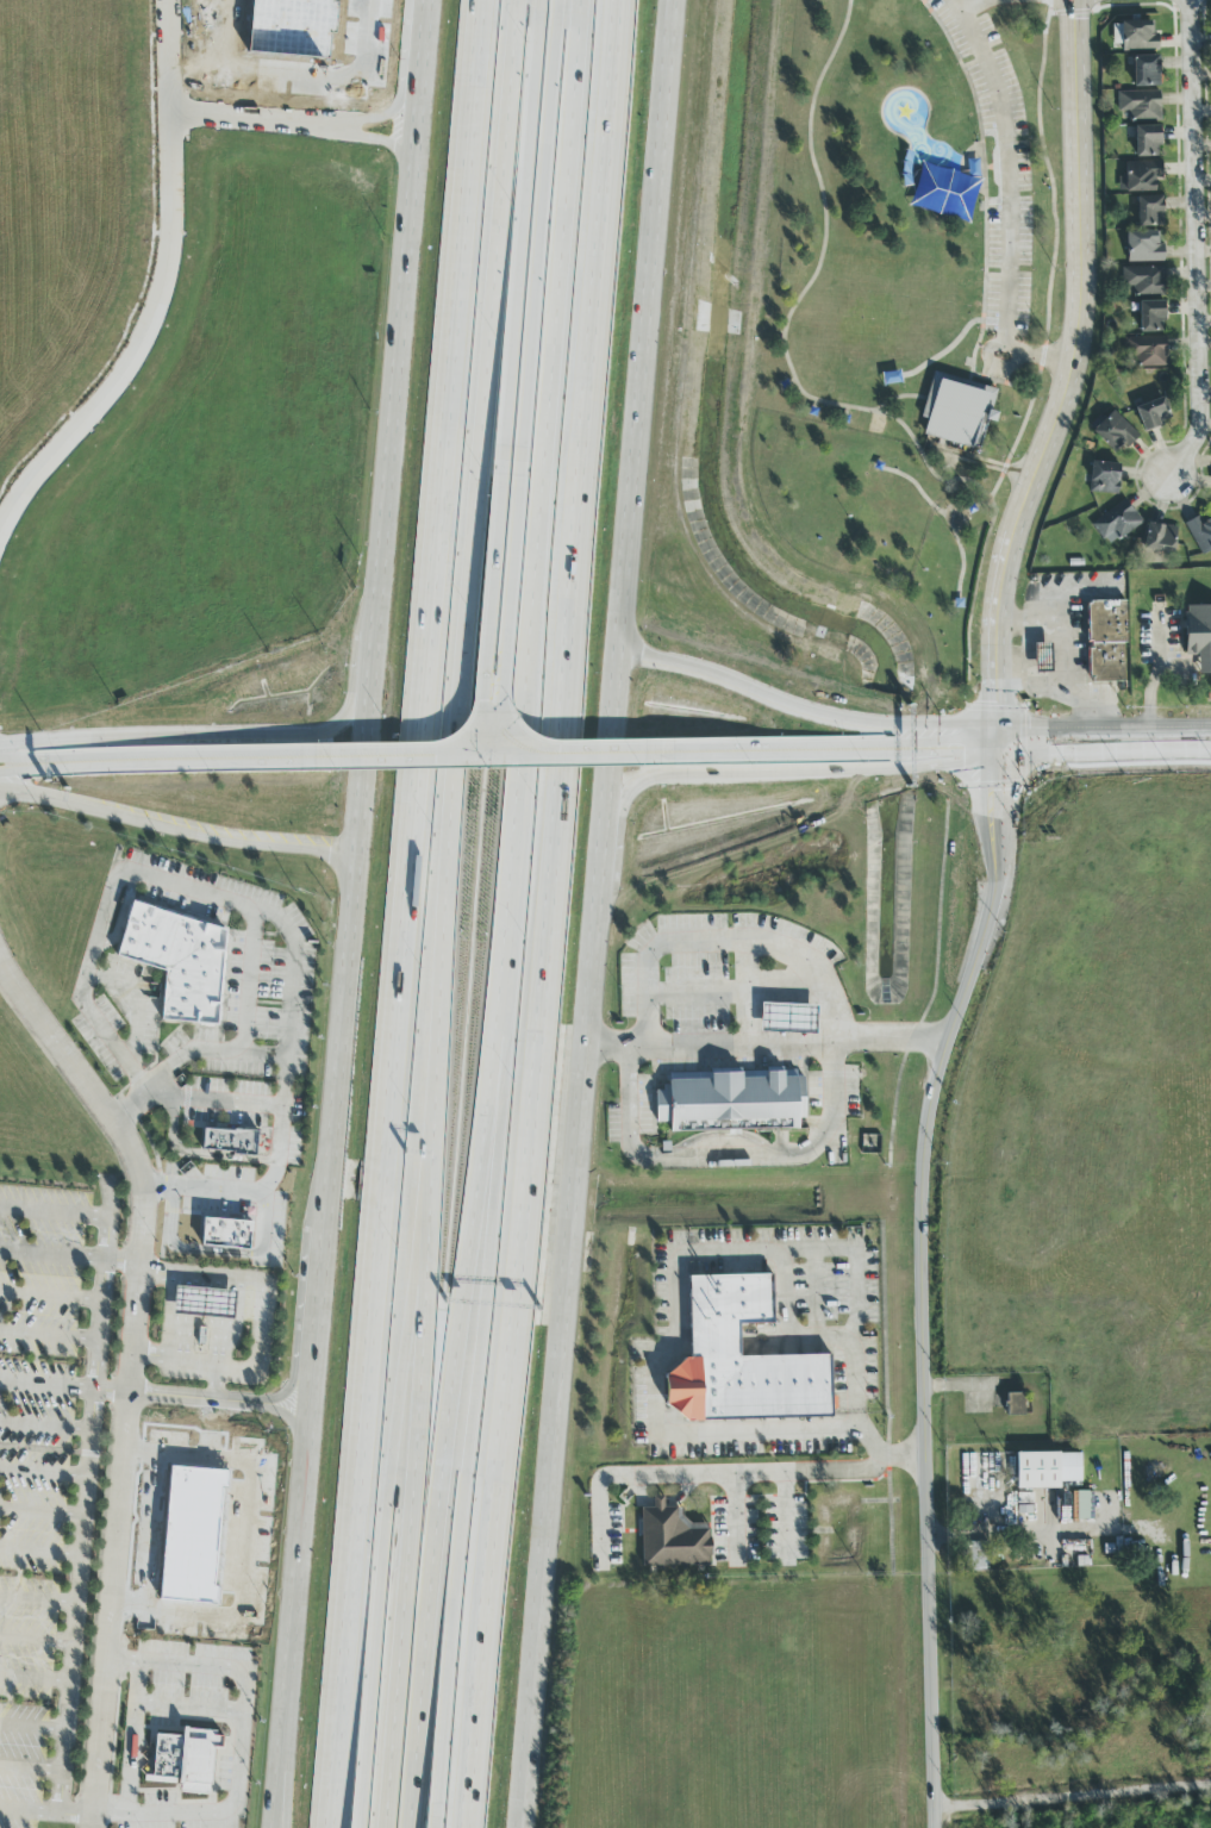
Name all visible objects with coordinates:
road: (1015, 0)
road: (963, 4)
building: (1137, 36)
road: (511, 63)
building: (1144, 70)
building: (1140, 104)
road: (258, 121)
building: (1146, 141)
road: (998, 161)
road: (1006, 161)
road: (525, 166)
road: (544, 166)
building: (1138, 176)
parking lot: (1001, 181)
road: (990, 186)
building: (1148, 211)
park: (920, 227)
building: (1143, 245)
road: (1198, 247)
road: (1056, 274)
building: (1143, 279)
road: (160, 288)
road: (797, 304)
building: (1150, 316)
road: (956, 341)
road: (1038, 350)
building: (1147, 350)
road: (1000, 358)
road: (1069, 379)
road: (1005, 381)
road: (899, 393)
building: (961, 407)
building: (1151, 413)
building: (1113, 432)
road: (949, 462)
road: (984, 463)
building: (1103, 478)
road: (951, 511)
building: (1115, 523)
building: (1200, 534)
road: (497, 535)
road: (518, 535)
building: (1157, 537)
road: (980, 580)
road: (374, 613)
building: (1199, 630)
building: (1109, 637)
road: (1026, 649)
road: (1061, 650)
gas station: (1044, 651)
building: (1042, 657)
road: (1184, 666)
road: (1155, 668)
road: (1081, 699)
road: (810, 711)
road: (452, 712)
road: (1203, 725)
road: (1109, 728)
road: (256, 737)
traffic signals: (1004, 745)
road: (1015, 745)
road: (494, 747)
road: (749, 751)
road: (1118, 755)
road: (18, 760)
road: (264, 761)
road: (18, 769)
road: (750, 772)
road: (188, 831)
road: (157, 884)
road: (401, 913)
road: (533, 913)
road: (599, 913)
road: (506, 915)
road: (731, 937)
building: (171, 962)
road: (249, 982)
road: (739, 988)
parking lot: (738, 990)
gas station: (793, 1015)
building: (788, 1019)
road: (768, 1043)
road: (286, 1092)
building: (723, 1097)
road: (214, 1100)
crop: (1093, 1109)
building: (229, 1142)
road: (731, 1154)
road: (894, 1174)
road: (89, 1222)
building: (225, 1234)
road: (141, 1246)
road: (51, 1256)
road: (676, 1266)
road: (922, 1280)
road: (814, 1294)
road: (50, 1297)
building: (207, 1302)
gas station: (207, 1302)
road: (316, 1317)
road: (397, 1322)
road: (481, 1324)
road: (261, 1327)
road: (48, 1336)
parking lot: (860, 1340)
building: (743, 1359)
road: (216, 1381)
road: (63, 1387)
building: (1015, 1404)
road: (211, 1427)
building: (1047, 1470)
road: (813, 1471)
road: (624, 1477)
road: (735, 1491)
road: (151, 1528)
road: (1017, 1534)
road: (81, 1537)
building: (672, 1537)
road: (245, 1539)
building: (976, 1556)
road: (404, 1564)
road: (293, 1585)
road: (186, 1665)
road: (910, 1697)
road: (189, 1708)
road: (96, 1734)
road: (132, 1737)
road: (364, 1757)
building: (185, 1760)
road: (442, 1760)
road: (275, 1795)
road: (279, 1795)
road: (1072, 1801)
road: (44, 1813)

